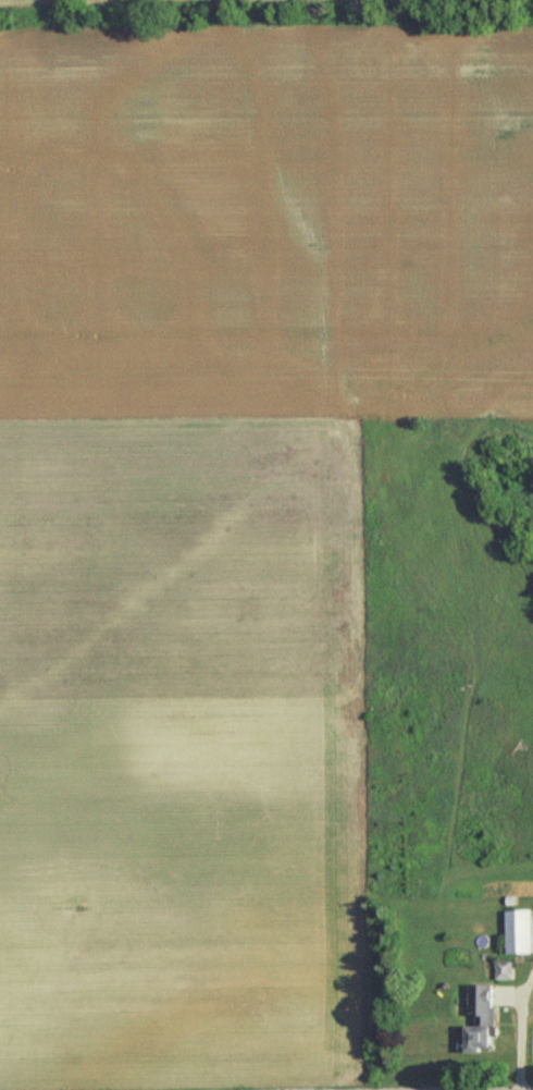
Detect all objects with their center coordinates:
building: (516, 930)
building: (501, 968)
building: (478, 1014)

